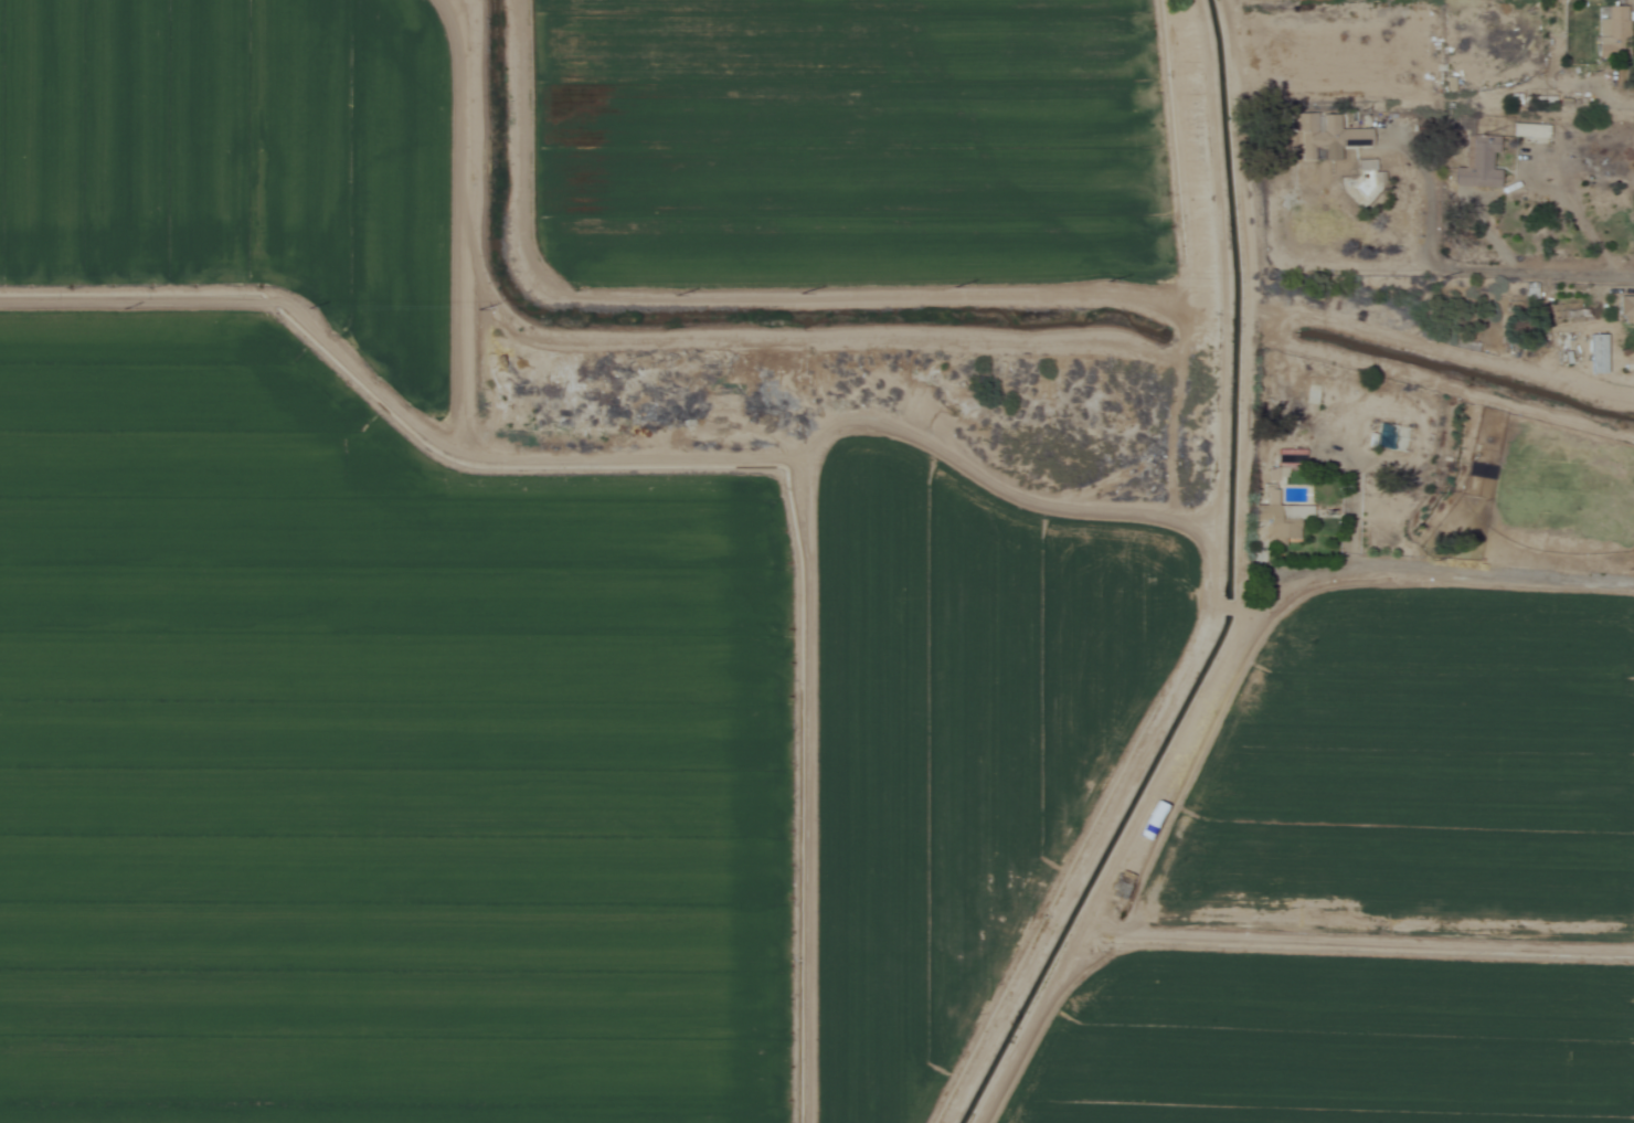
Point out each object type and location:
building: (1614, 27)
building: (1528, 131)
building: (1326, 136)
building: (1478, 165)
building: (1625, 307)
building: (1577, 314)
building: (1625, 362)
building: (1478, 472)
building: (1286, 522)

